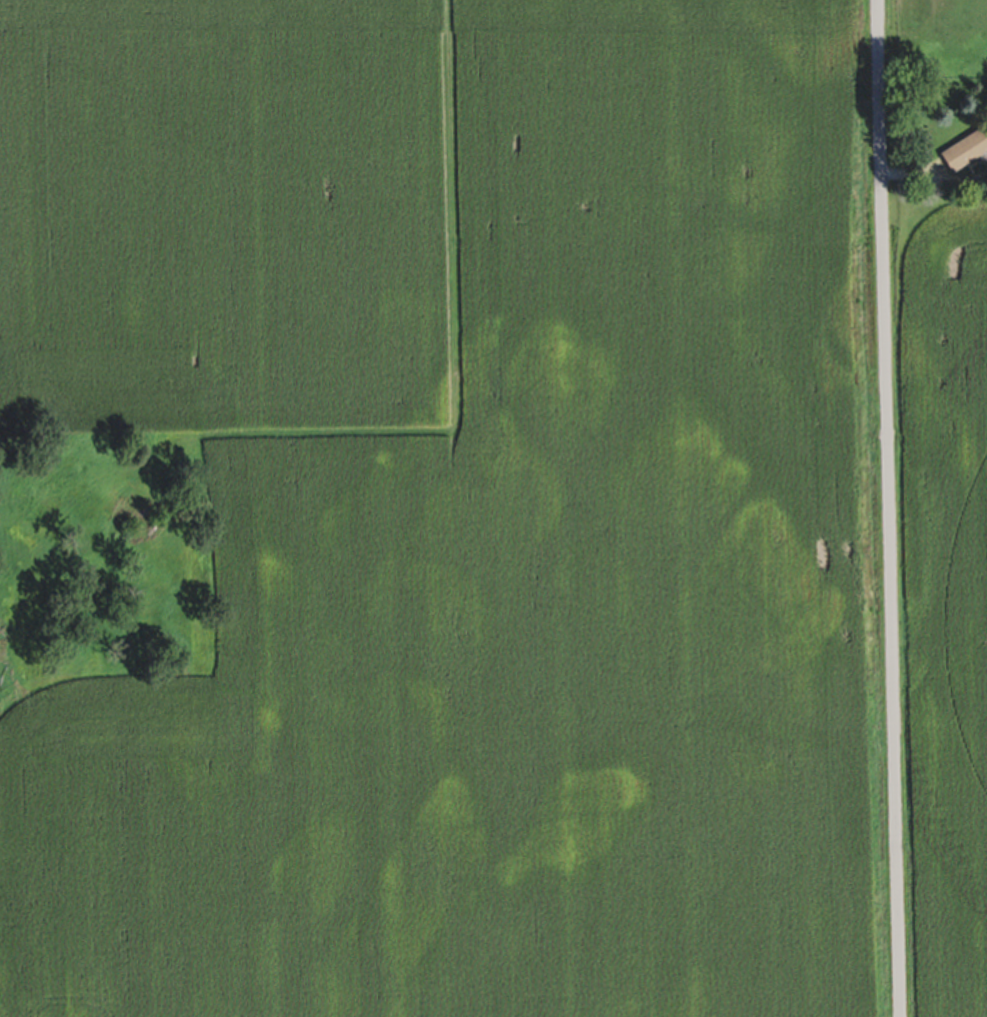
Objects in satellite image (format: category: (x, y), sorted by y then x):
building: (963, 149)
road: (886, 508)

